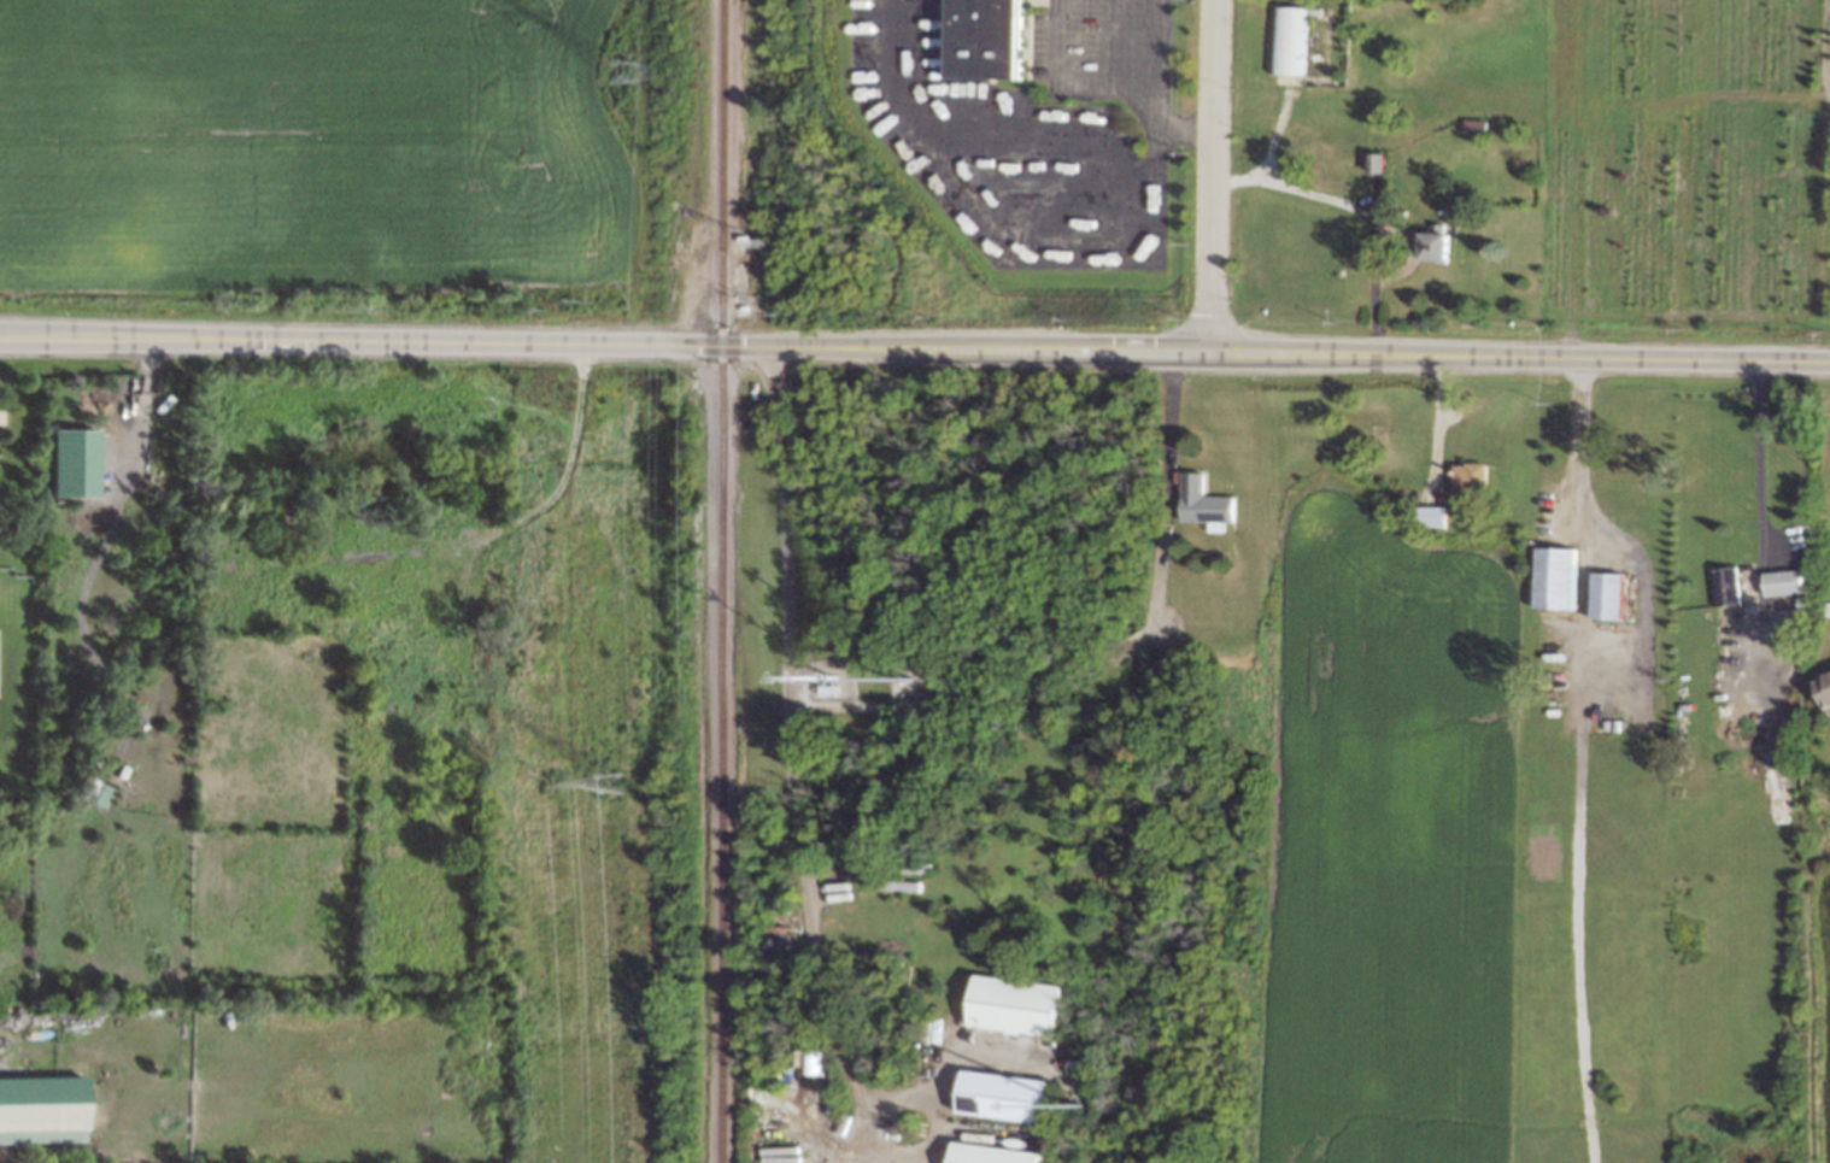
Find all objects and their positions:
building: (989, 37)
building: (1290, 40)
power tower: (605, 67)
road: (1126, 93)
crop: (280, 139)
crop: (1691, 152)
building: (1376, 161)
road: (1210, 176)
road: (1359, 211)
building: (1437, 245)
power tower: (551, 296)
road: (915, 350)
road: (140, 412)
road: (1756, 462)
building: (74, 463)
building: (1472, 478)
road: (1161, 491)
building: (1206, 503)
building: (1432, 515)
building: (1558, 576)
railway: (722, 581)
building: (1785, 582)
building: (1728, 587)
building: (1609, 594)
building: (1828, 685)
road: (796, 758)
crop: (1498, 774)
power tower: (549, 780)
power tower: (605, 781)
building: (95, 791)
building: (1019, 1006)
building: (1005, 1096)
building: (42, 1109)
building: (995, 1155)

